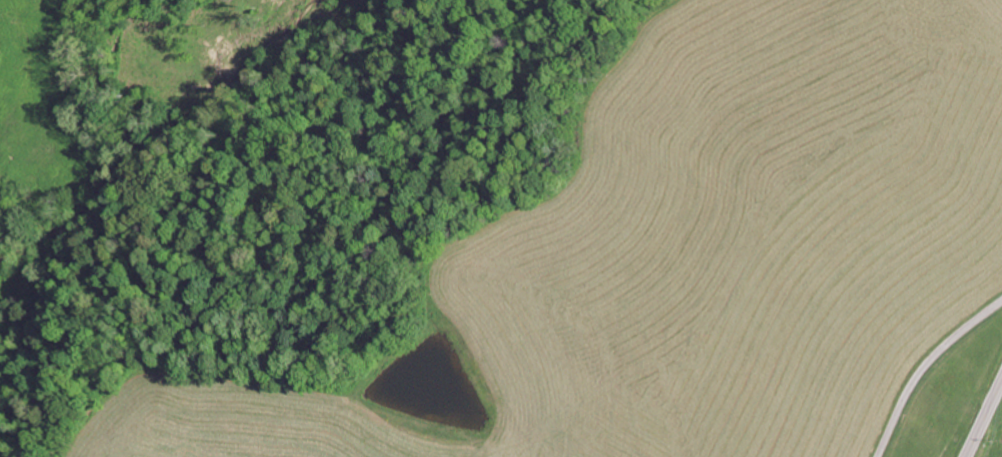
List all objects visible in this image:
road: (926, 369)
road: (984, 419)

